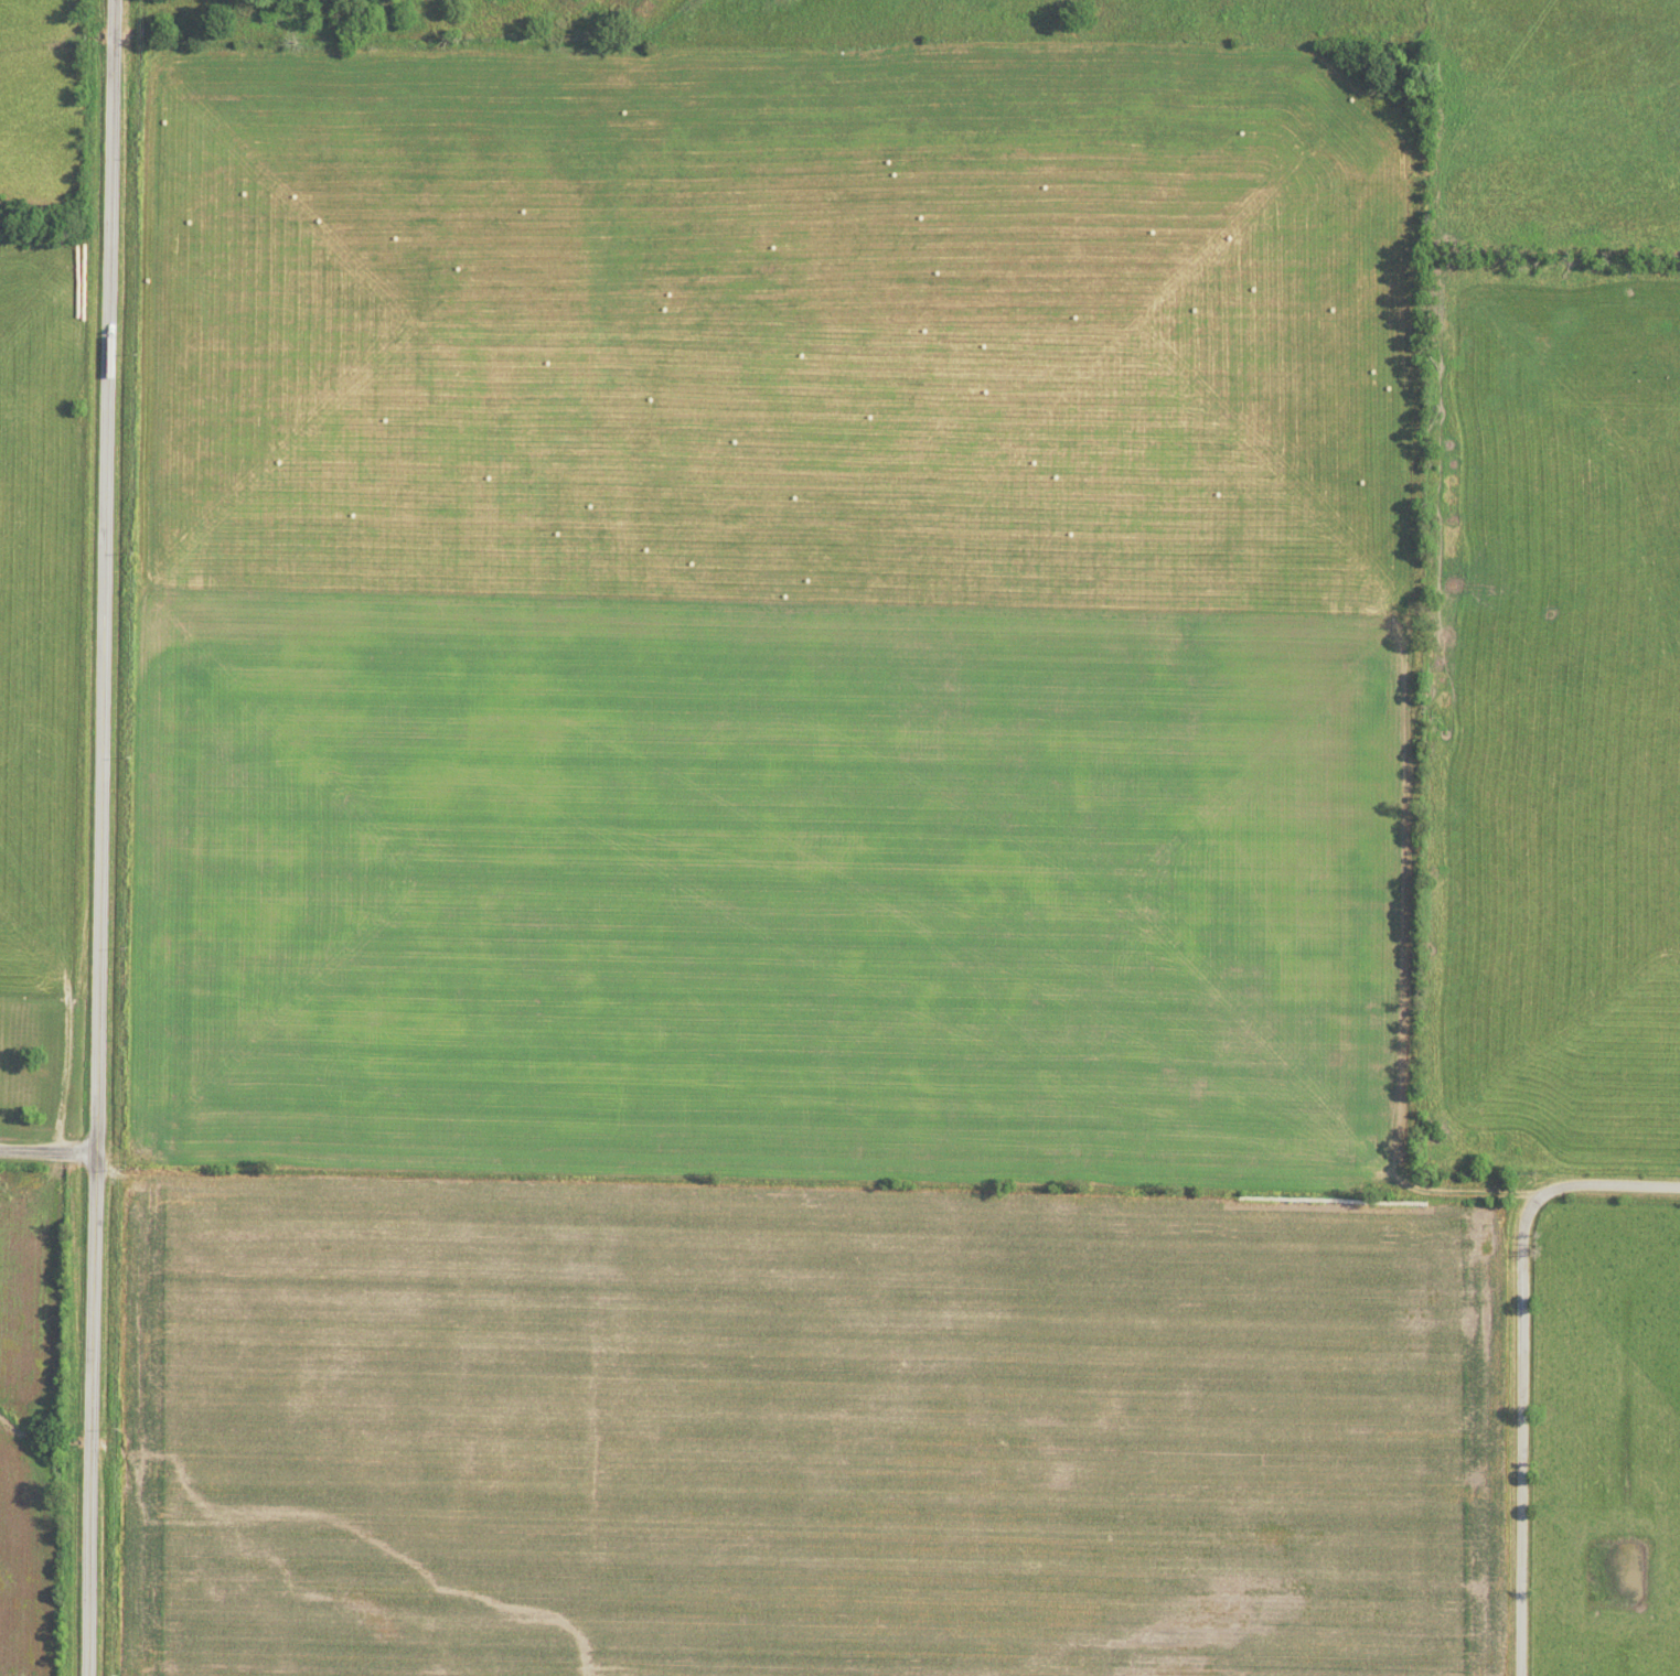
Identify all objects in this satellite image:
road: (104, 837)
road: (50, 1148)
road: (1648, 1186)
road: (1526, 1394)

